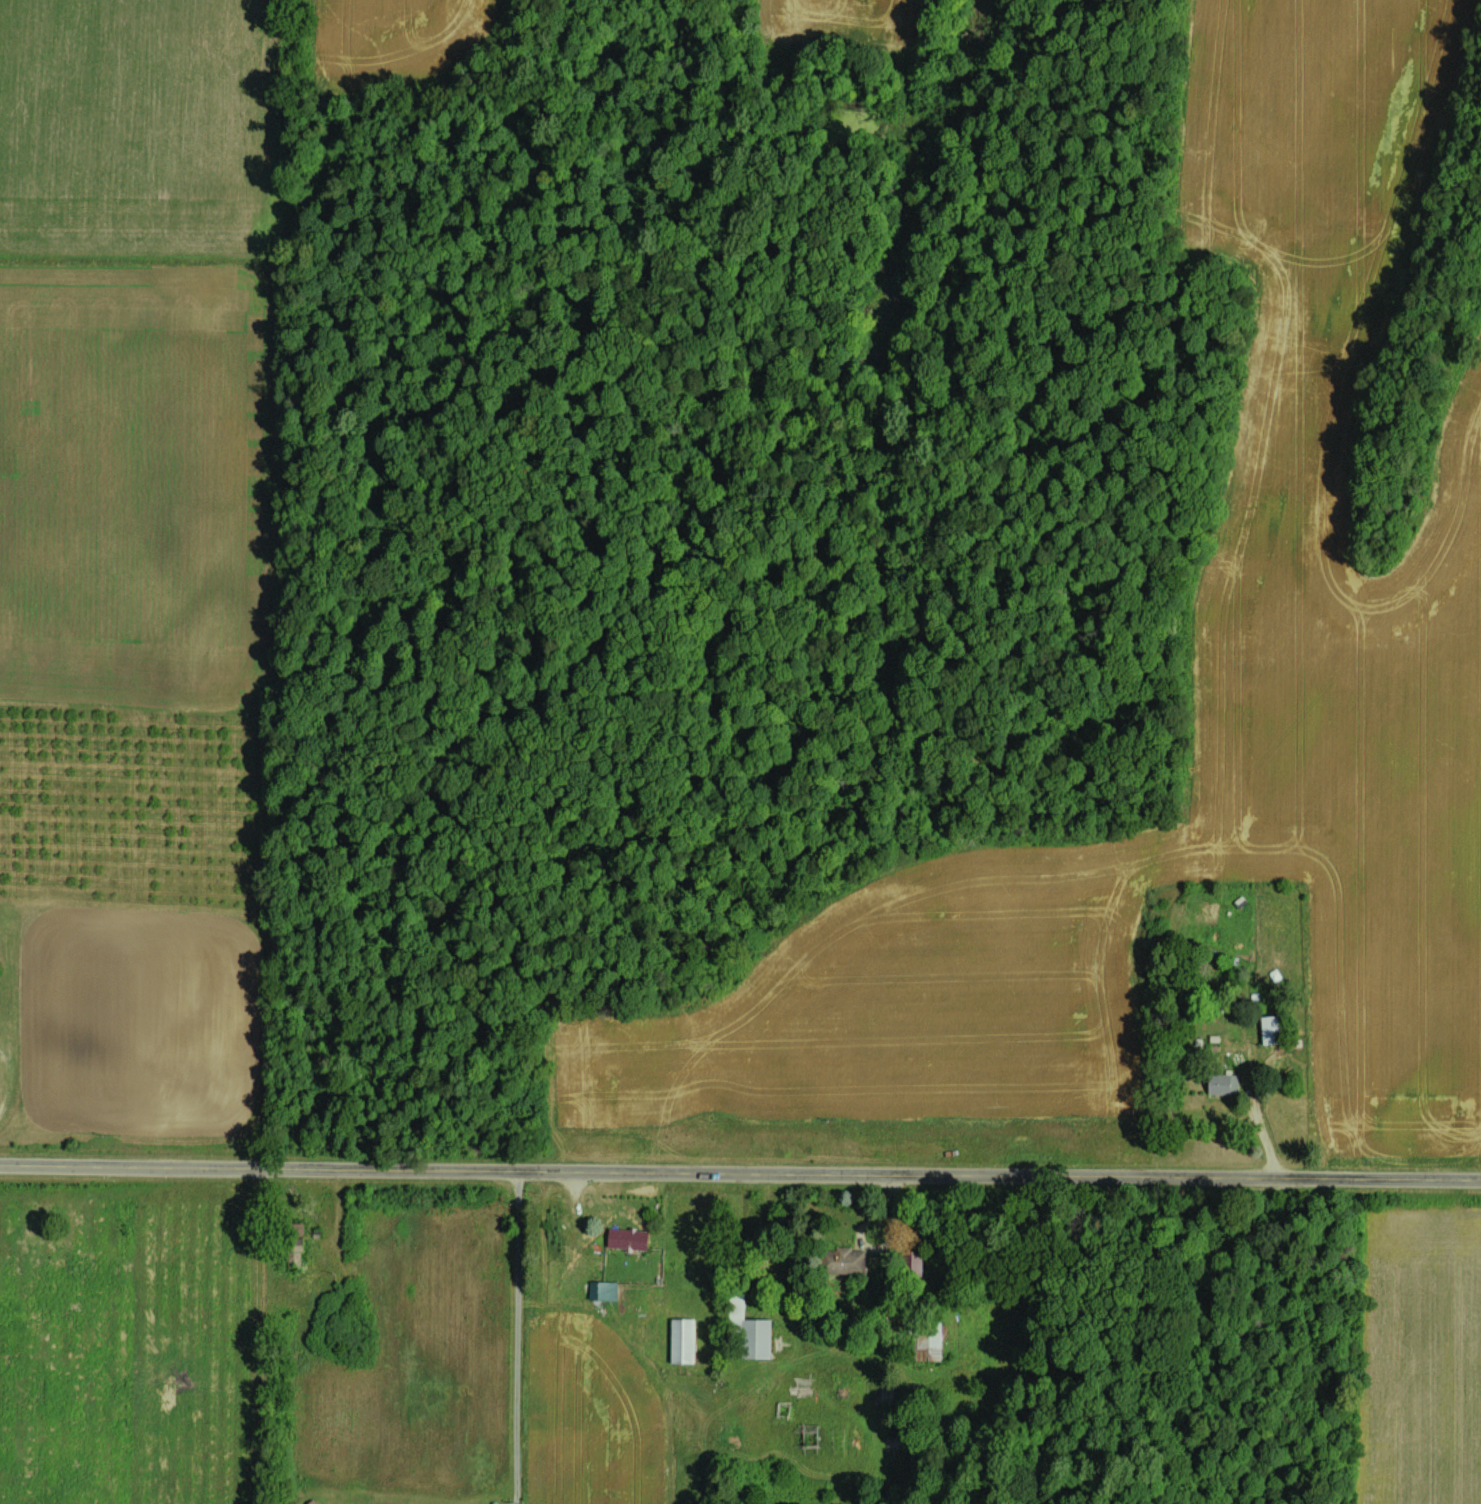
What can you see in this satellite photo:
building: (1271, 1028)
building: (1220, 1083)
road: (740, 1170)
building: (625, 1238)
building: (297, 1241)
building: (839, 1260)
building: (908, 1265)
building: (602, 1290)
building: (598, 1333)
road: (516, 1337)
building: (754, 1338)
building: (921, 1339)
building: (681, 1340)

